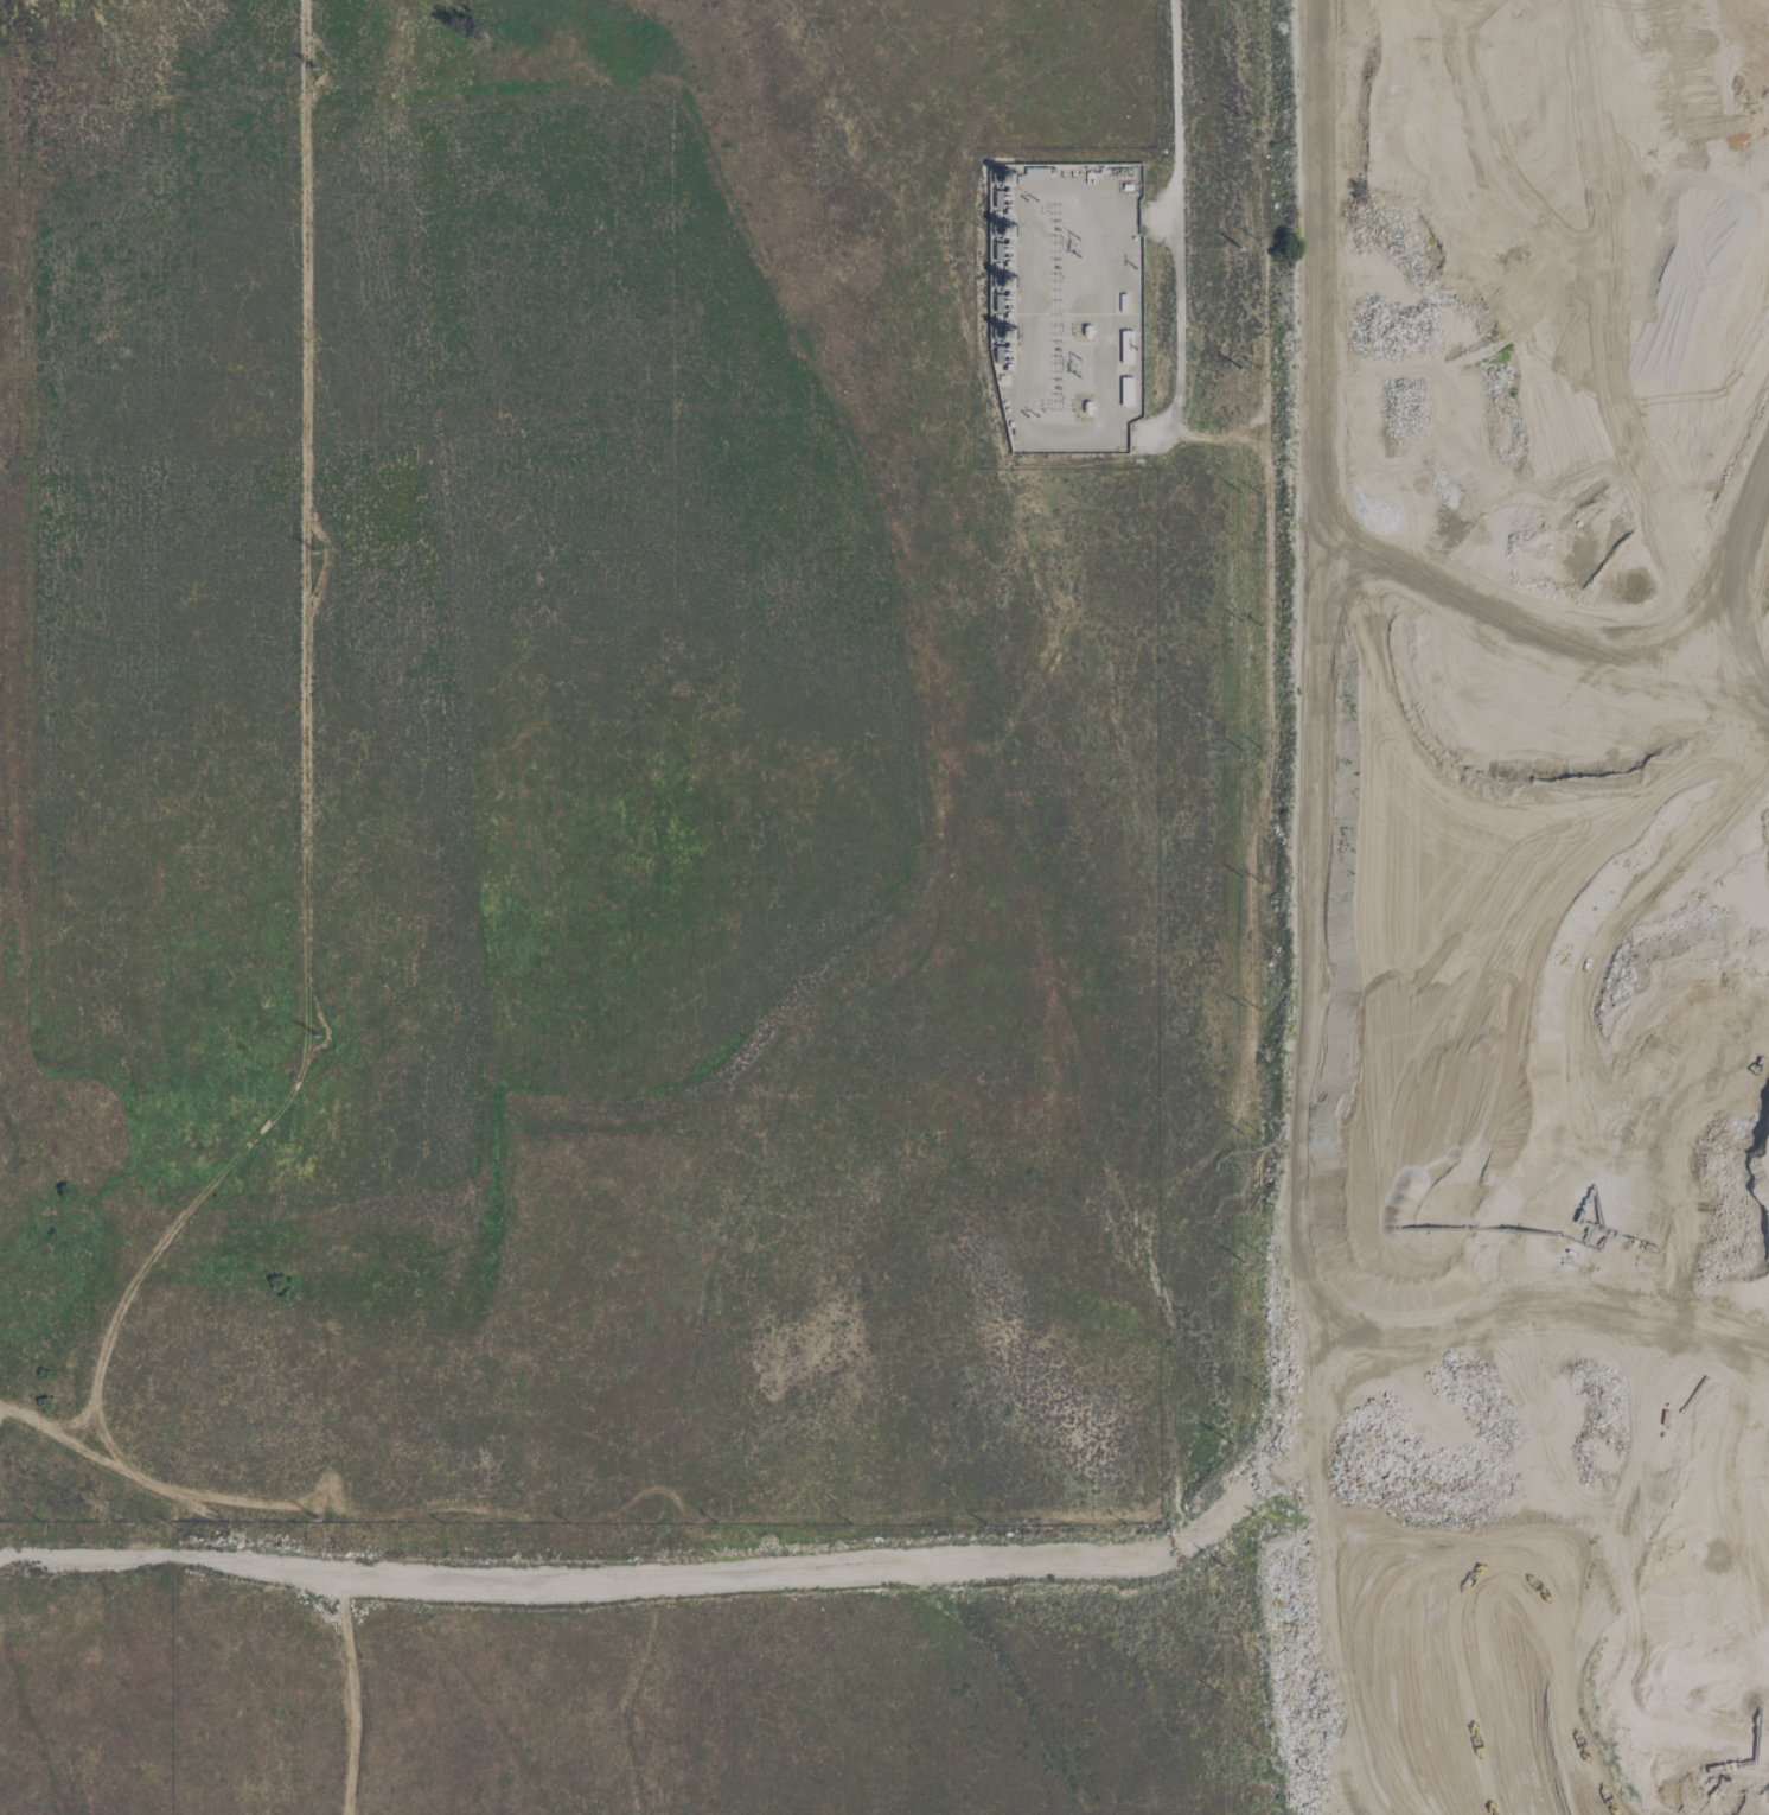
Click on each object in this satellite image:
road: (1177, 208)
power plant: (1002, 274)
power substation: (1066, 305)
building: (1125, 390)
quarry: (1519, 904)
road: (1447, 922)
road: (1554, 1281)

